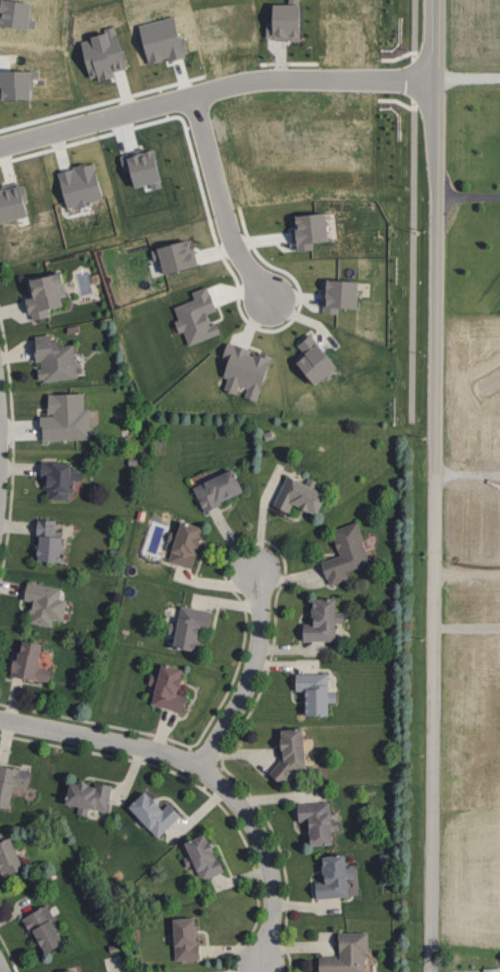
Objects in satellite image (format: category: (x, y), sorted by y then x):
building: (279, 20)
building: (97, 52)
road: (470, 72)
building: (11, 82)
road: (216, 89)
building: (76, 184)
road: (469, 192)
building: (12, 200)
road: (222, 200)
building: (301, 228)
building: (170, 255)
building: (38, 291)
building: (333, 294)
building: (192, 316)
building: (49, 358)
building: (307, 359)
building: (241, 370)
building: (61, 417)
road: (468, 478)
building: (54, 480)
road: (435, 485)
building: (210, 488)
building: (294, 494)
building: (42, 539)
building: (180, 544)
building: (341, 553)
road: (467, 574)
building: (39, 602)
building: (315, 620)
building: (184, 624)
building: (24, 661)
road: (251, 674)
building: (163, 688)
building: (308, 691)
building: (282, 752)
road: (208, 773)
building: (10, 779)
building: (82, 796)
building: (148, 813)
building: (311, 822)
building: (4, 854)
building: (197, 856)
building: (329, 877)
building: (37, 926)
building: (179, 940)
building: (341, 954)
building: (61, 970)
road: (0, 971)

